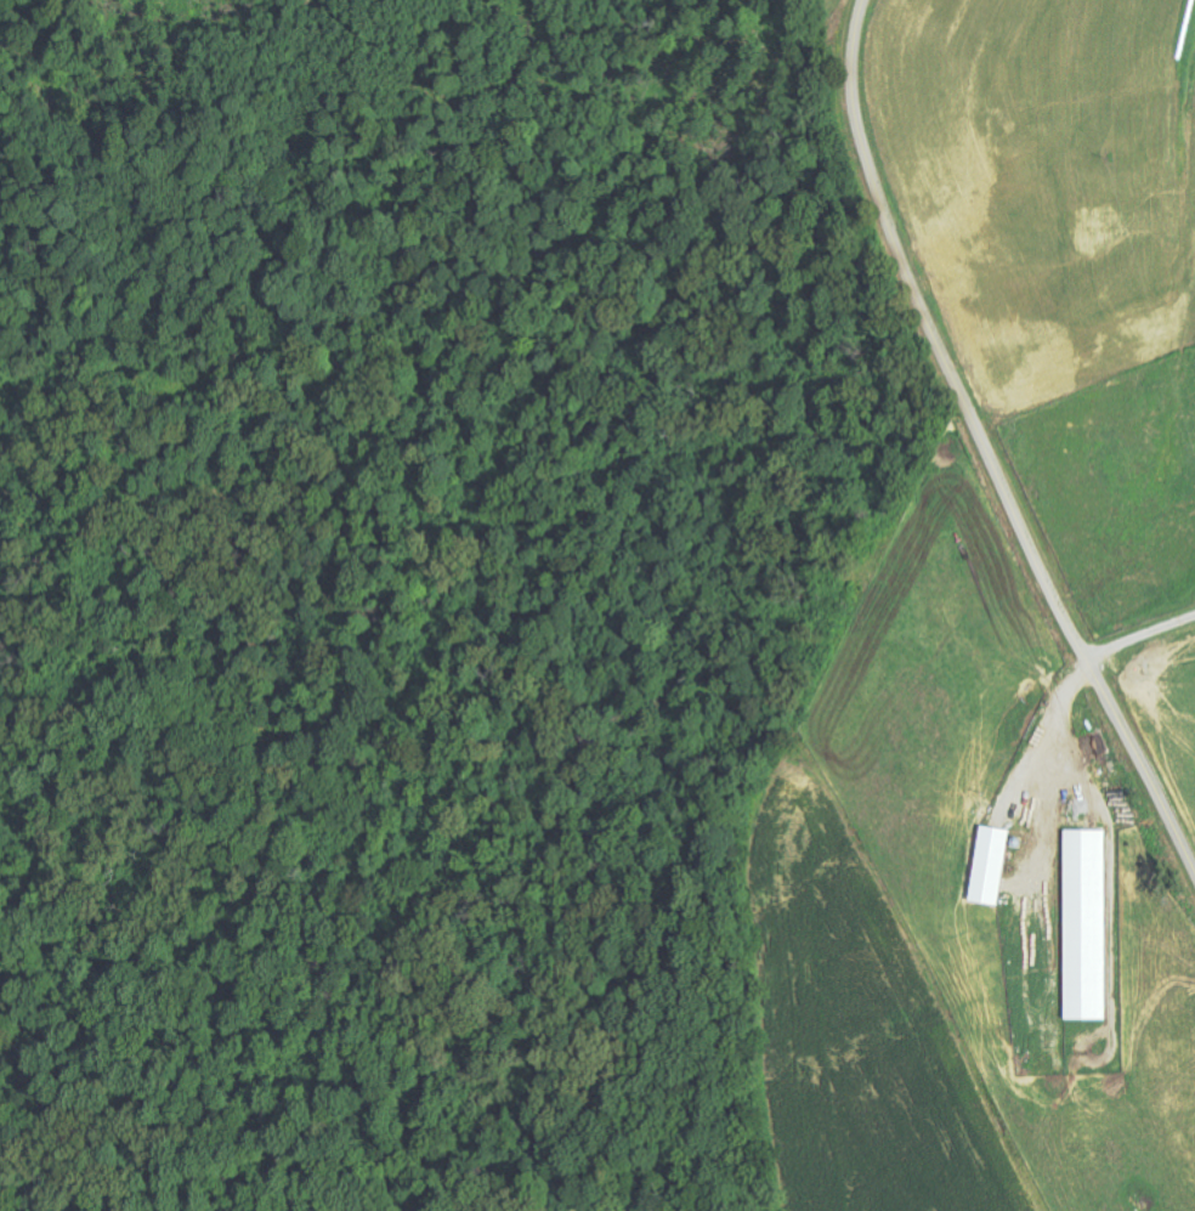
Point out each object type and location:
road: (986, 443)
building: (998, 865)
building: (1094, 926)

